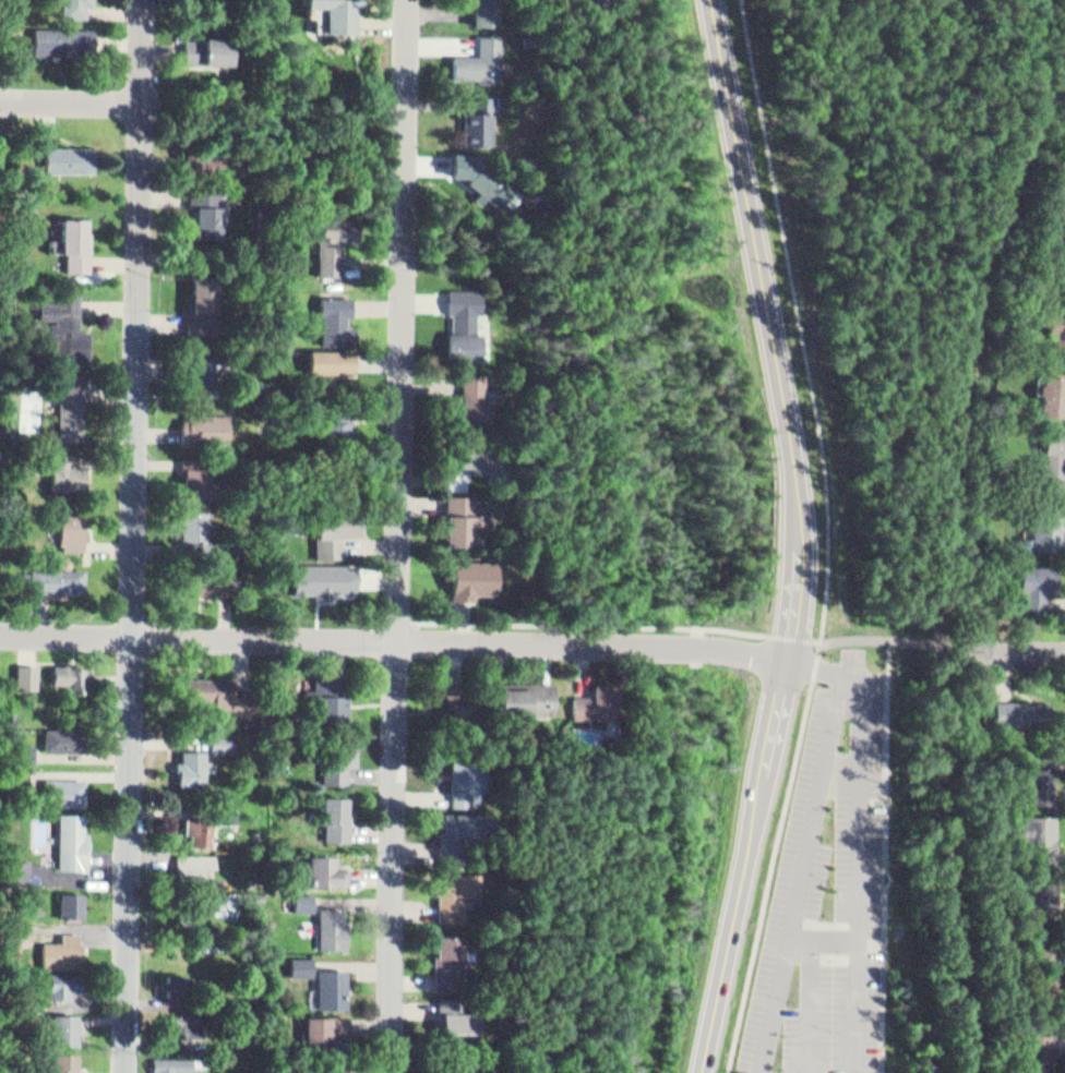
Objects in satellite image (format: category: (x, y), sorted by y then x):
building: (73, 5)
building: (482, 8)
building: (338, 12)
building: (64, 35)
building: (206, 45)
building: (474, 58)
road: (73, 101)
building: (476, 114)
road: (980, 125)
building: (58, 150)
building: (486, 178)
building: (1060, 195)
road: (869, 197)
building: (204, 206)
road: (756, 226)
building: (76, 237)
building: (332, 238)
road: (818, 253)
building: (1064, 273)
road: (902, 281)
building: (201, 300)
building: (334, 311)
building: (467, 321)
building: (1051, 321)
building: (65, 322)
road: (804, 327)
road: (811, 327)
road: (935, 334)
building: (330, 357)
building: (196, 366)
building: (213, 370)
building: (1045, 388)
building: (467, 396)
building: (74, 405)
building: (333, 419)
building: (204, 421)
building: (472, 451)
building: (1049, 453)
building: (68, 469)
building: (196, 478)
building: (460, 517)
building: (73, 521)
building: (193, 521)
building: (1038, 523)
building: (330, 531)
road: (136, 535)
road: (404, 536)
road: (941, 553)
road: (800, 557)
building: (466, 574)
building: (196, 575)
building: (56, 576)
building: (1037, 581)
road: (479, 619)
road: (644, 622)
road: (758, 630)
road: (797, 637)
road: (879, 638)
road: (643, 641)
road: (270, 642)
road: (1021, 652)
road: (957, 653)
road: (767, 654)
road: (816, 668)
building: (29, 670)
road: (817, 670)
building: (74, 671)
road: (849, 678)
building: (207, 685)
building: (326, 691)
building: (455, 694)
building: (520, 695)
building: (593, 697)
street lamp: (898, 707)
building: (1014, 708)
building: (67, 732)
street lamp: (850, 733)
building: (224, 735)
road: (774, 738)
building: (24, 746)
building: (339, 751)
building: (195, 764)
building: (23, 769)
building: (1041, 774)
building: (464, 775)
building: (20, 781)
building: (62, 784)
street lamp: (834, 807)
building: (333, 811)
building: (200, 821)
building: (1037, 829)
building: (457, 833)
building: (72, 835)
road: (888, 855)
building: (196, 860)
building: (15, 865)
building: (325, 866)
road: (771, 877)
street lamp: (892, 878)
building: (458, 890)
building: (1042, 892)
building: (34, 894)
building: (306, 894)
parking lot: (833, 894)
building: (72, 897)
building: (308, 902)
building: (334, 923)
building: (9, 935)
road: (826, 940)
road: (731, 943)
building: (62, 945)
building: (447, 955)
building: (302, 960)
building: (1039, 964)
building: (176, 977)
building: (61, 979)
building: (333, 984)
street lamp: (792, 998)
road: (812, 1006)
building: (453, 1017)
building: (192, 1021)
building: (61, 1023)
building: (325, 1029)
building: (1033, 1051)
building: (58, 1060)
building: (166, 1062)
building: (454, 1065)
building: (330, 1069)

